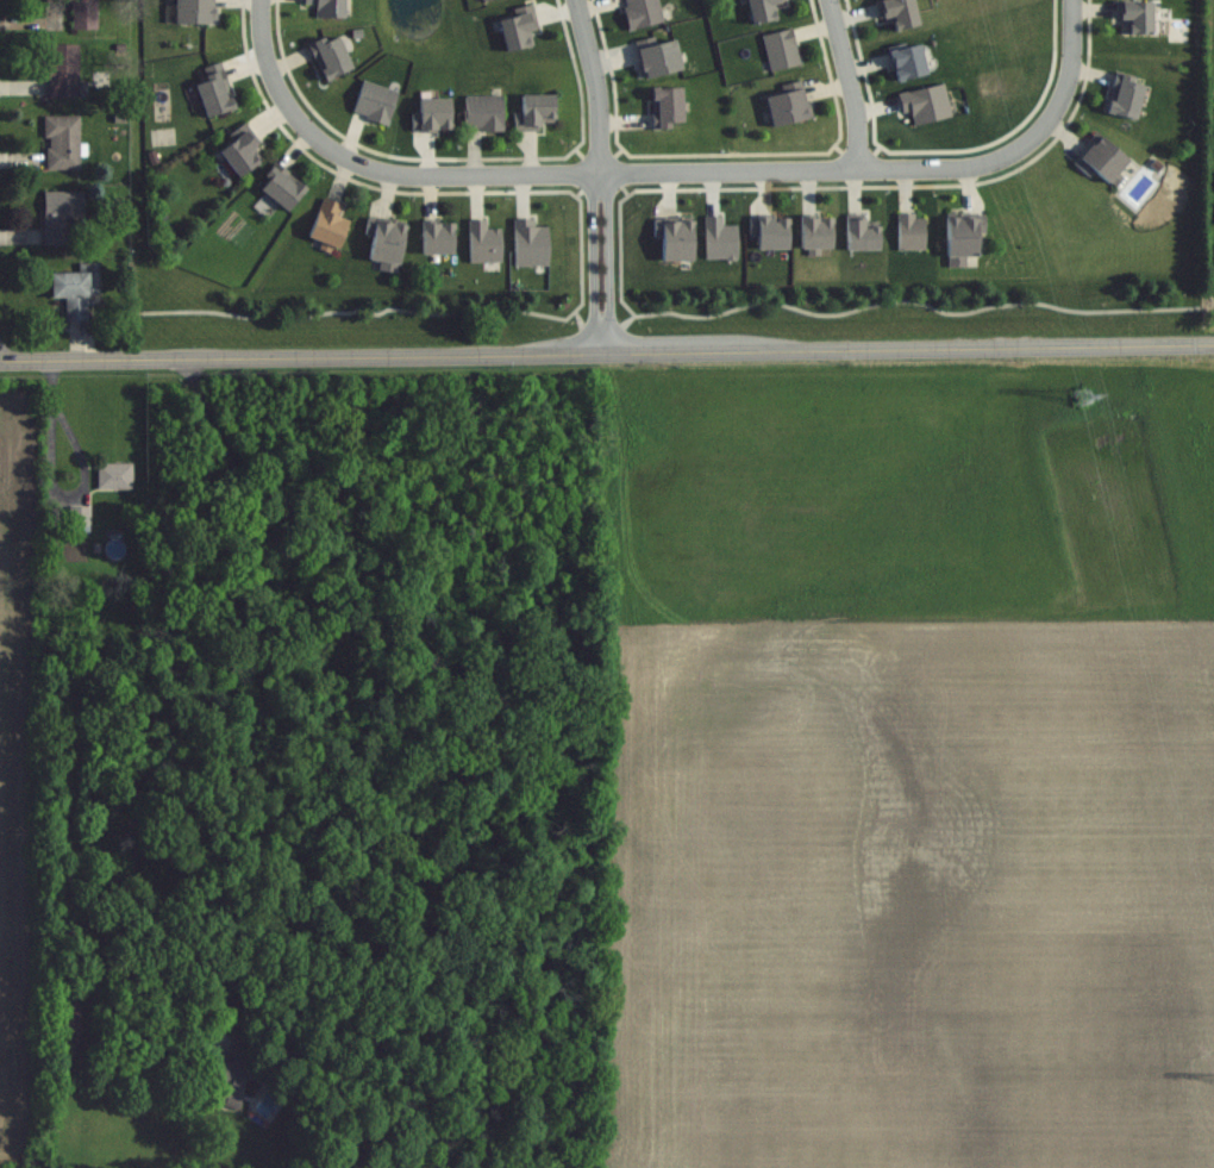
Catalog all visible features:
building: (481, 0)
building: (325, 7)
building: (198, 11)
building: (759, 11)
building: (83, 13)
building: (640, 13)
building: (1134, 17)
road: (259, 19)
building: (778, 50)
building: (327, 57)
building: (656, 60)
road: (1068, 60)
building: (64, 71)
road: (600, 85)
road: (846, 85)
building: (212, 90)
building: (1122, 96)
building: (373, 102)
building: (786, 107)
building: (664, 108)
building: (532, 112)
building: (481, 113)
road: (1041, 131)
building: (63, 142)
building: (238, 151)
building: (1101, 161)
road: (615, 171)
building: (279, 187)
building: (62, 214)
building: (326, 225)
building: (910, 232)
building: (813, 233)
building: (960, 239)
building: (383, 245)
road: (608, 262)
road: (594, 263)
building: (77, 292)
road: (607, 354)
power tower: (1080, 402)
building: (114, 475)
building: (77, 518)
road: (196, 693)
building: (65, 1030)
building: (229, 1073)

